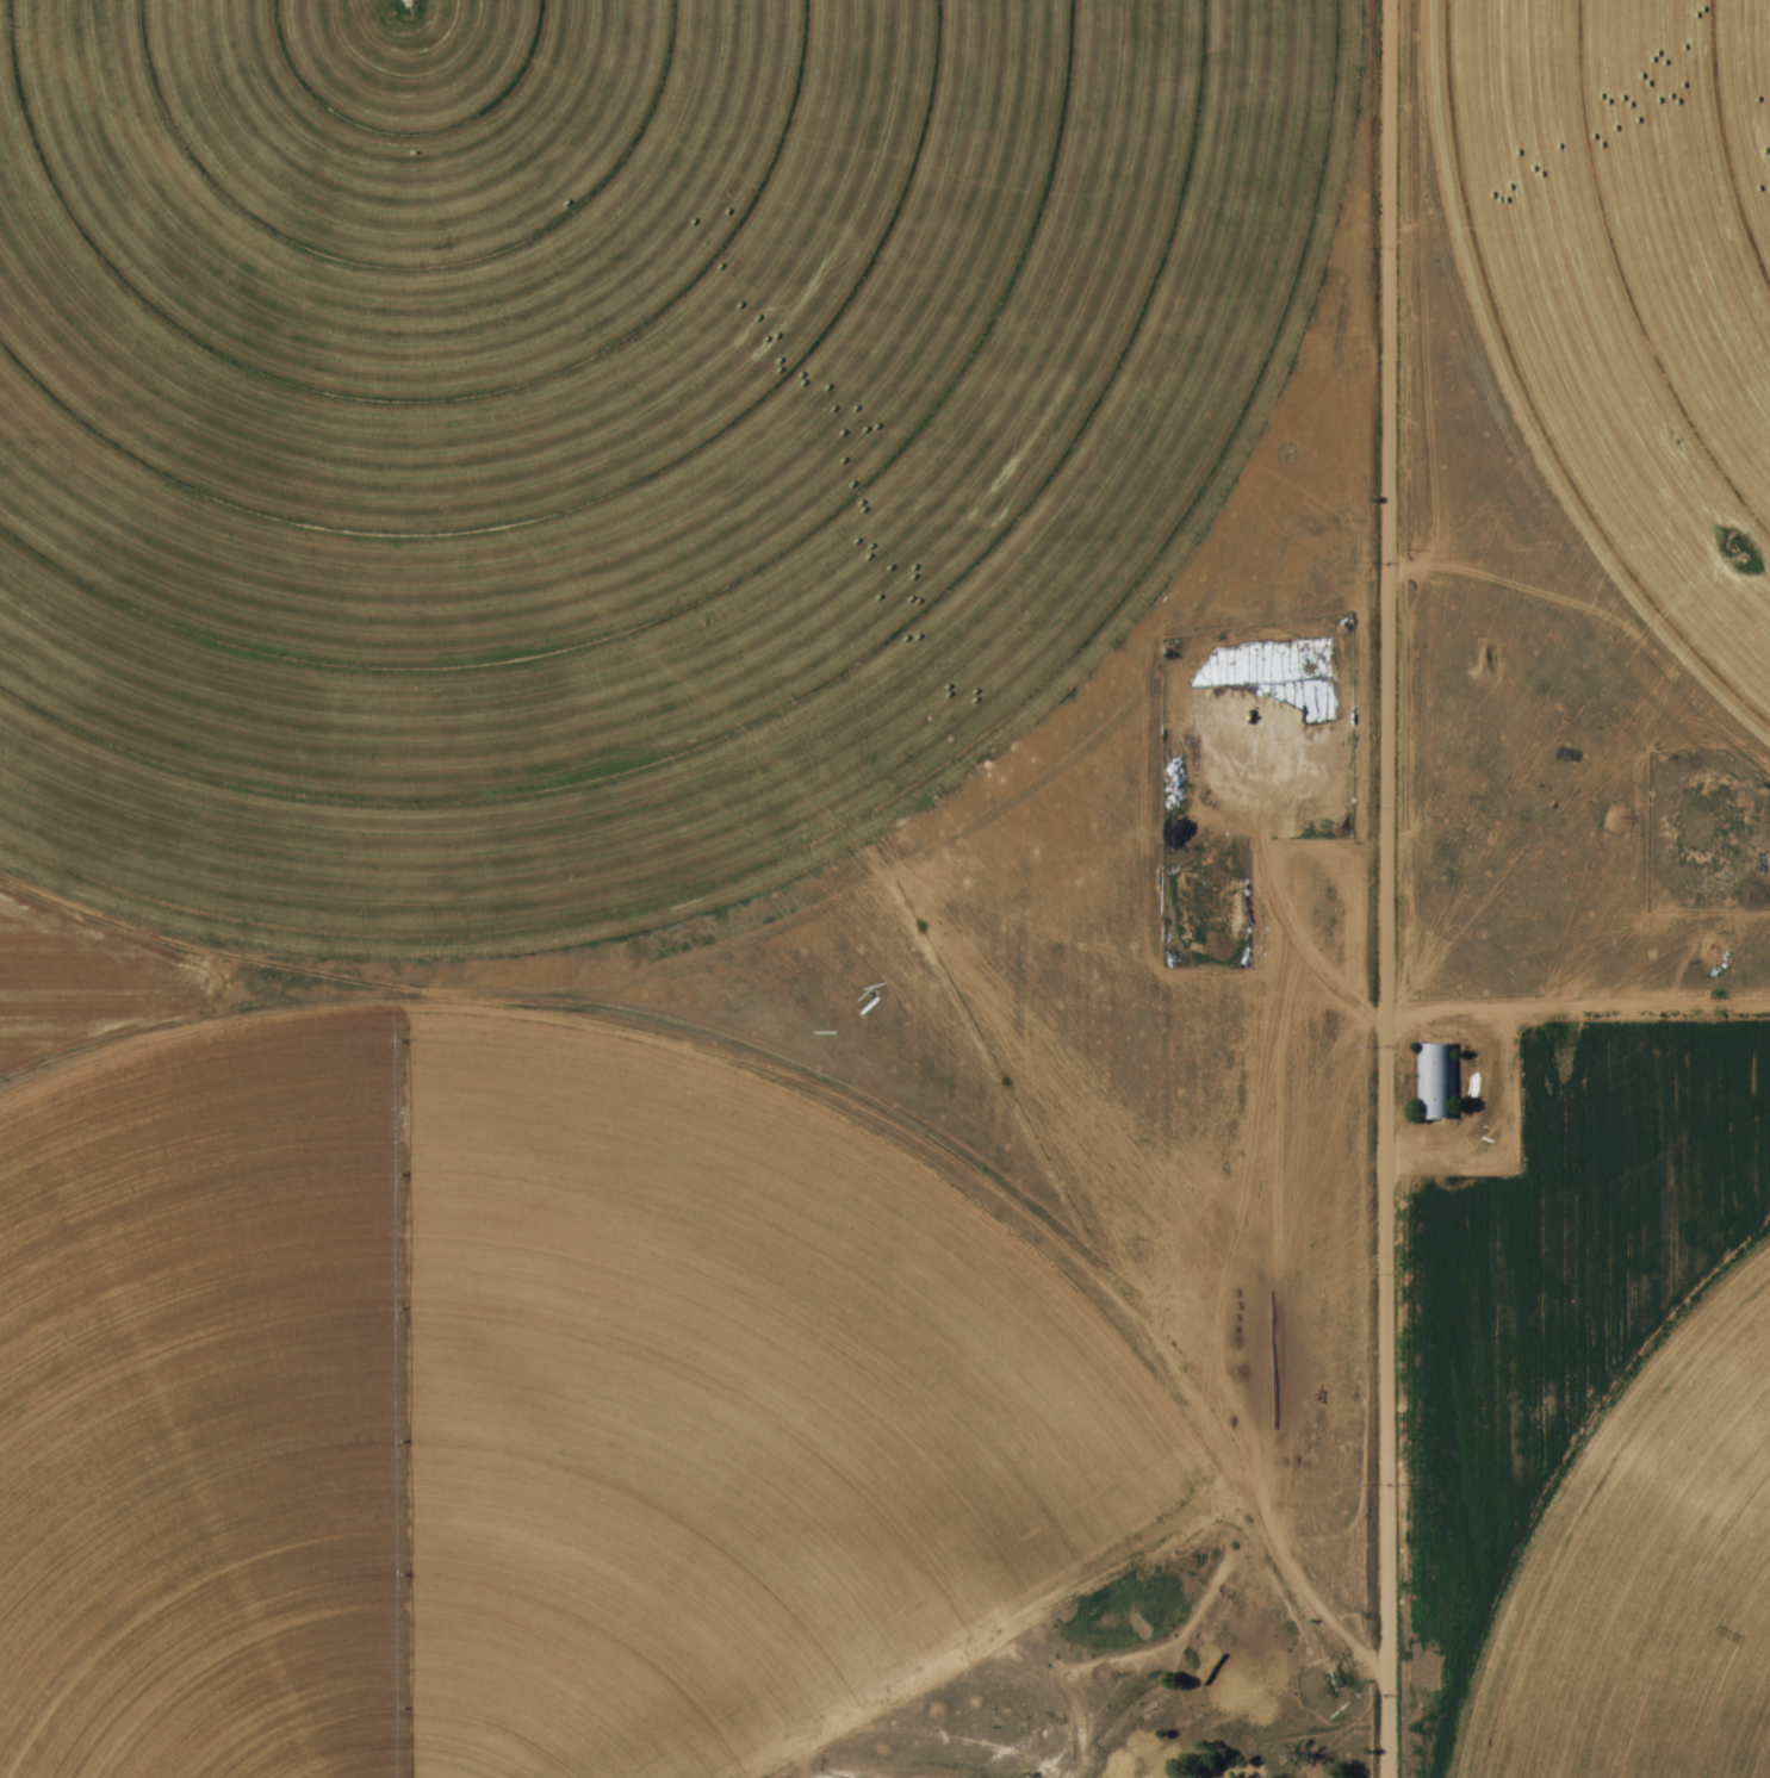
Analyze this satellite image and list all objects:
crop: (604, 423)
road: (1403, 888)
building: (1435, 1083)

